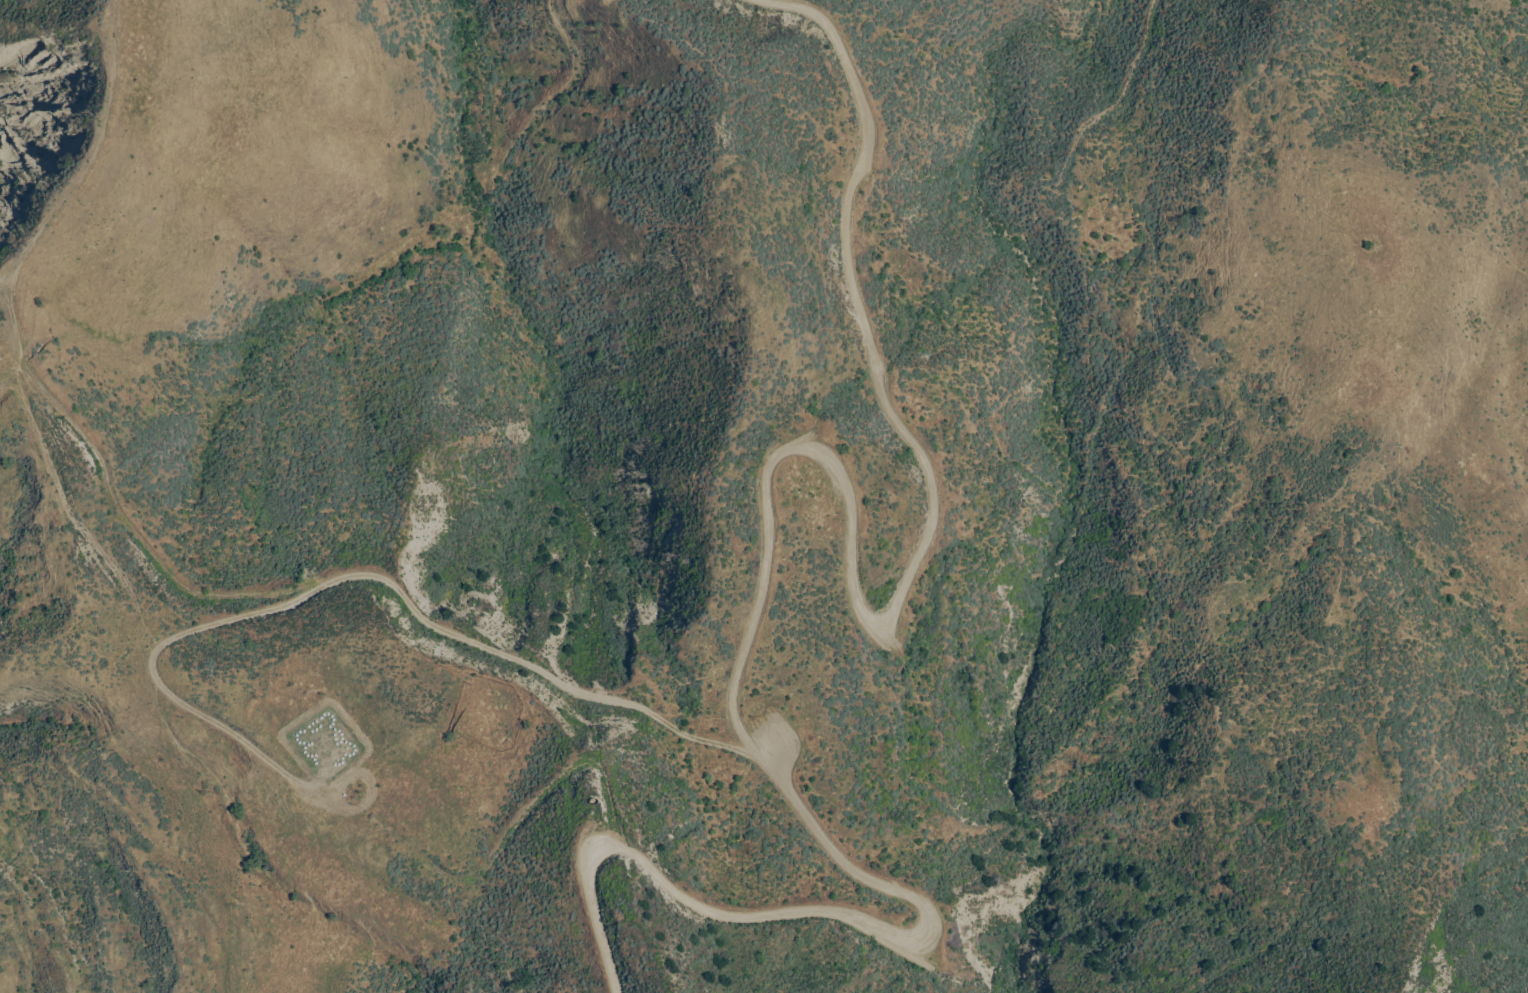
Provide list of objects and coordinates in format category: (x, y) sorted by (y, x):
road: (770, 517)

